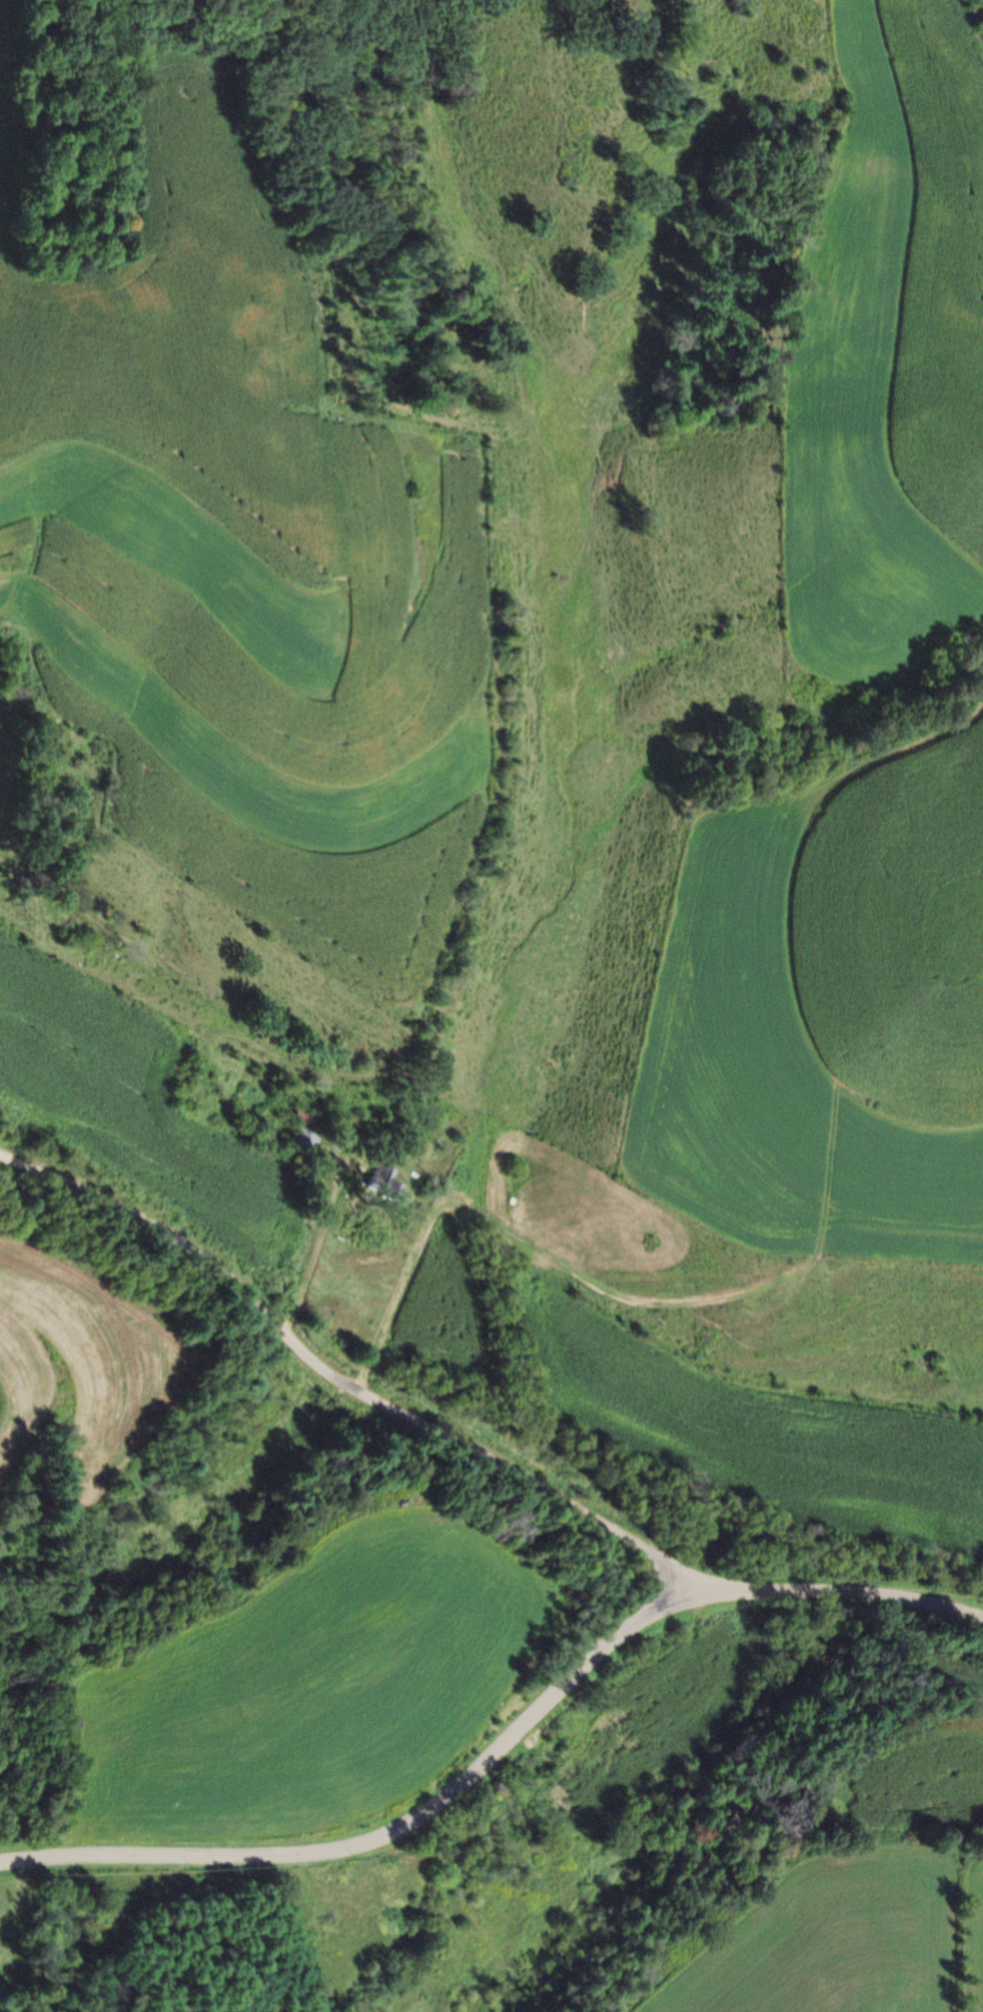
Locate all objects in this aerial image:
building: (306, 1134)
building: (388, 1184)
road: (344, 1386)
road: (501, 1744)

